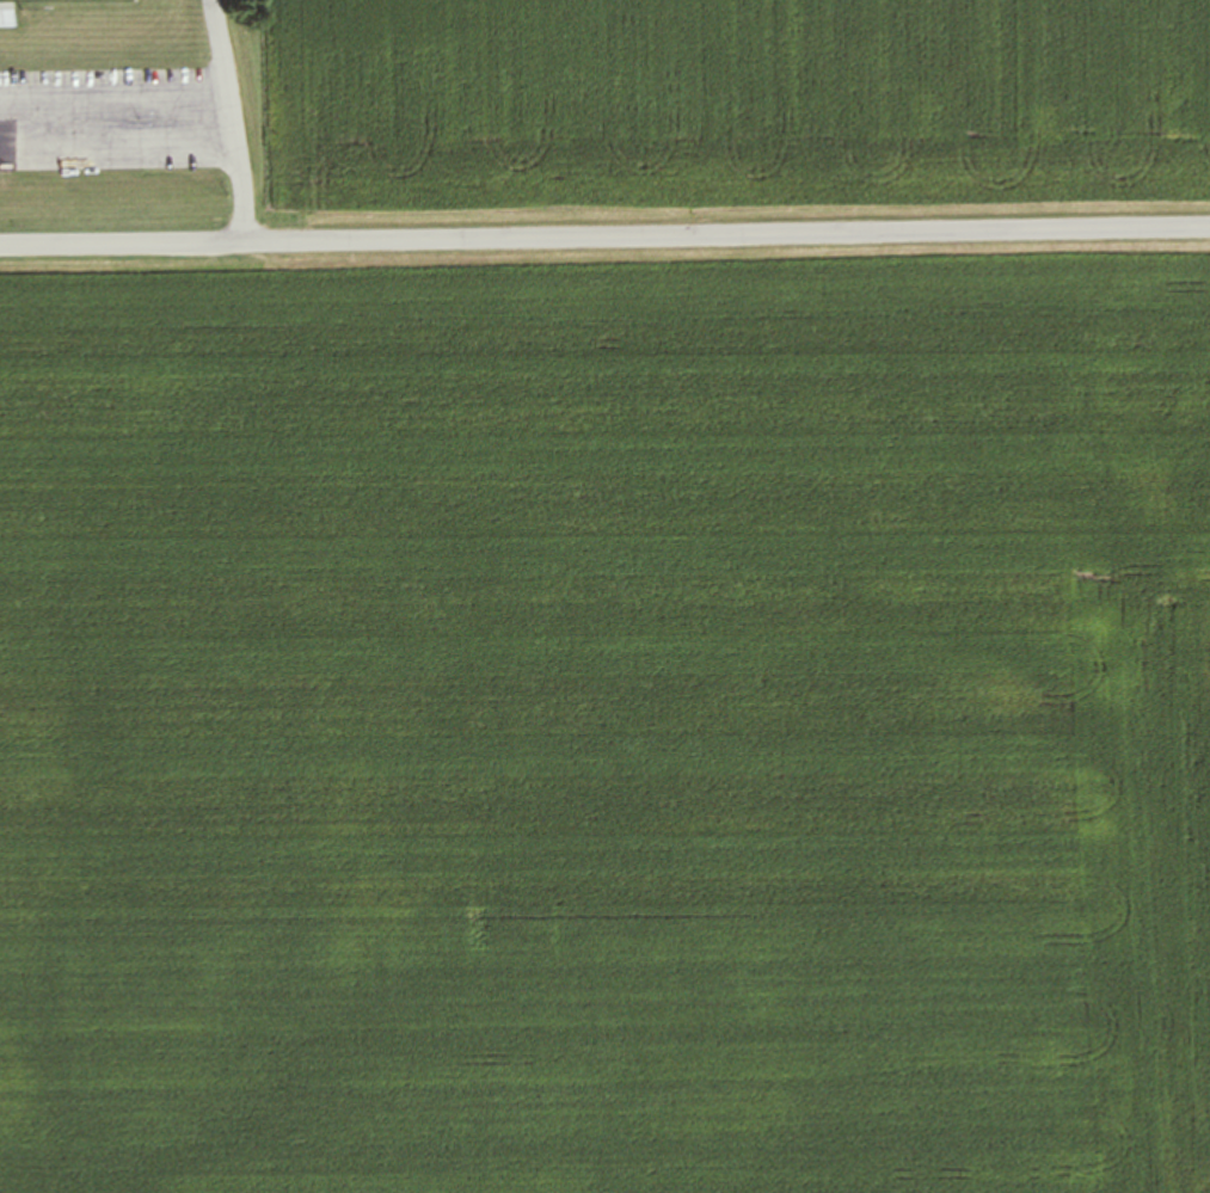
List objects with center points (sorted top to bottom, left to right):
park: (74, 1)
road: (113, 93)
parking lot: (108, 117)
road: (231, 122)
road: (117, 141)
road: (604, 244)

